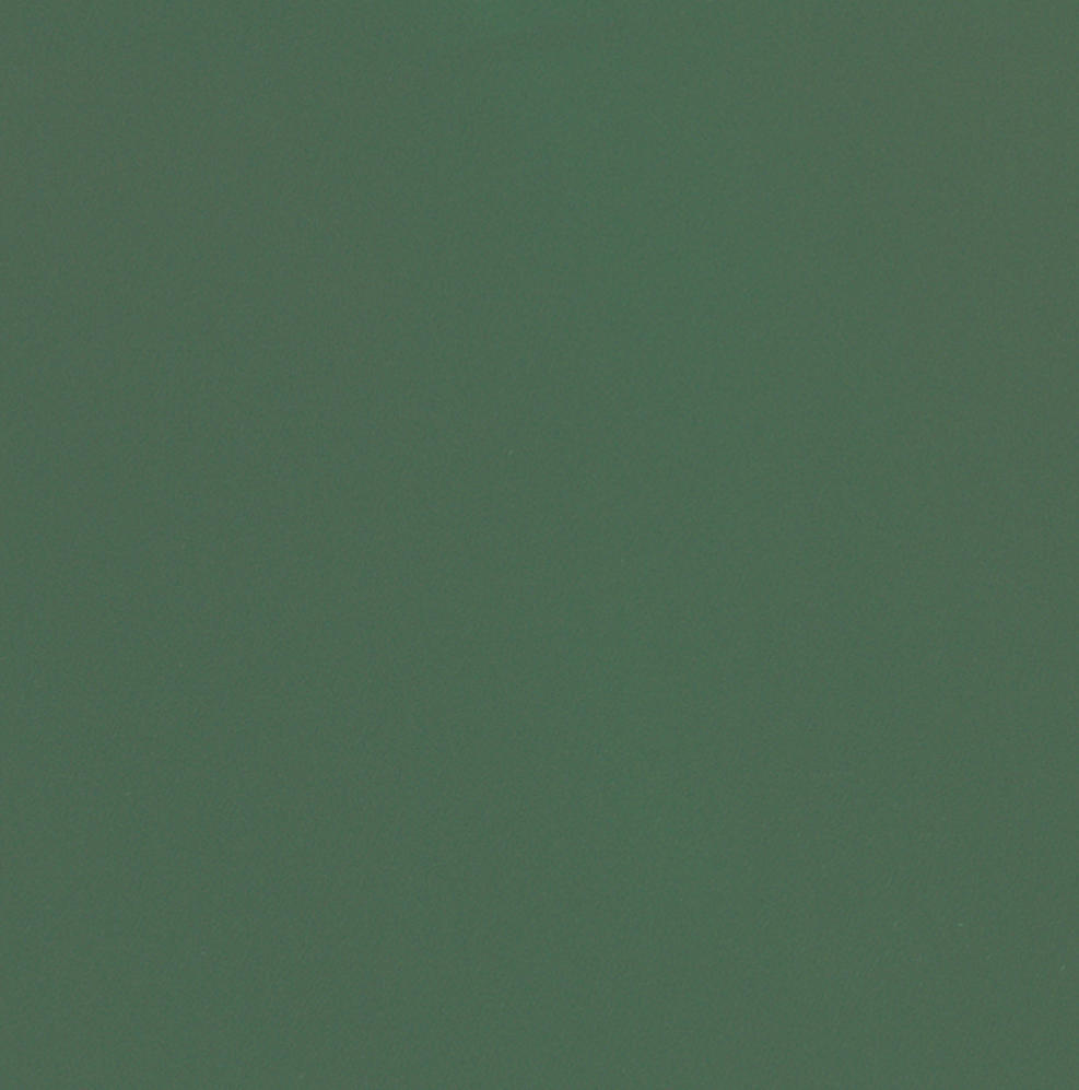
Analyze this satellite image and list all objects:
river: (260, 636)
river: (758, 912)

